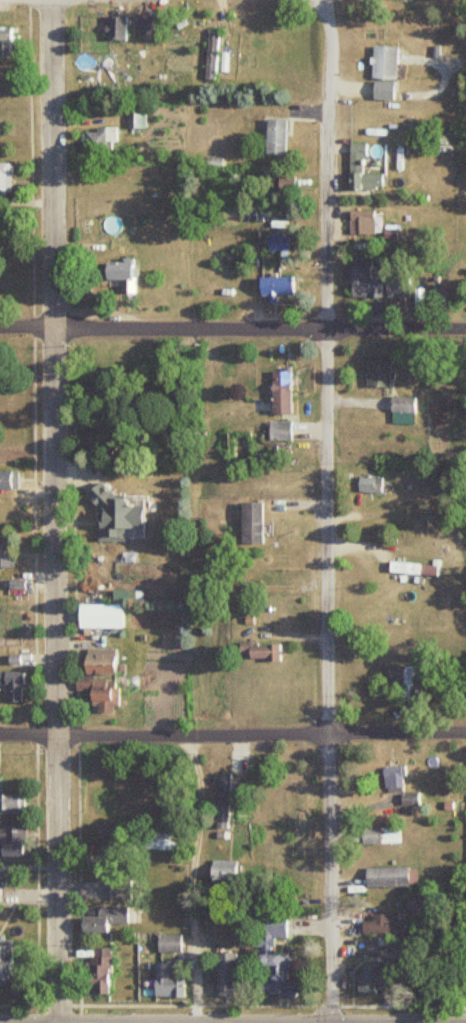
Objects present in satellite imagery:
road: (315, 3)
road: (322, 3)
building: (144, 27)
building: (114, 28)
building: (5, 41)
building: (210, 55)
building: (382, 72)
building: (134, 119)
building: (274, 137)
building: (98, 138)
building: (4, 177)
building: (365, 181)
building: (359, 222)
building: (275, 243)
building: (117, 275)
building: (361, 280)
building: (397, 286)
building: (272, 287)
road: (232, 327)
building: (377, 374)
building: (400, 405)
building: (278, 430)
building: (7, 480)
building: (368, 484)
road: (53, 511)
road: (327, 514)
building: (115, 515)
building: (250, 522)
building: (5, 554)
building: (410, 569)
building: (97, 614)
building: (257, 650)
building: (97, 660)
building: (399, 679)
building: (10, 685)
building: (97, 691)
road: (233, 733)
building: (395, 788)
building: (221, 800)
building: (11, 804)
building: (378, 835)
building: (11, 839)
building: (157, 840)
building: (102, 841)
building: (223, 872)
building: (383, 877)
building: (101, 918)
building: (378, 924)
building: (167, 942)
building: (5, 962)
building: (95, 971)
building: (223, 974)
building: (272, 975)
building: (370, 978)
building: (166, 980)

